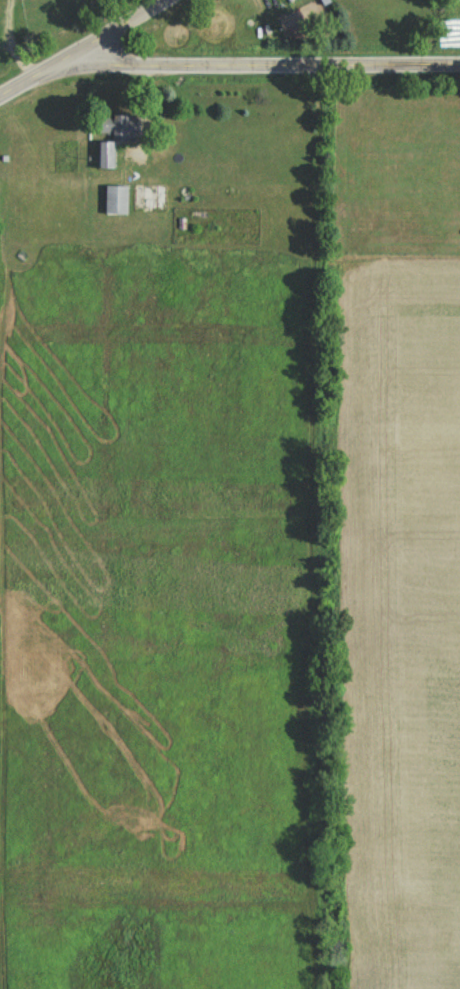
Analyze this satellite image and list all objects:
road: (83, 50)
road: (260, 62)
building: (114, 140)
building: (151, 201)
building: (117, 203)

